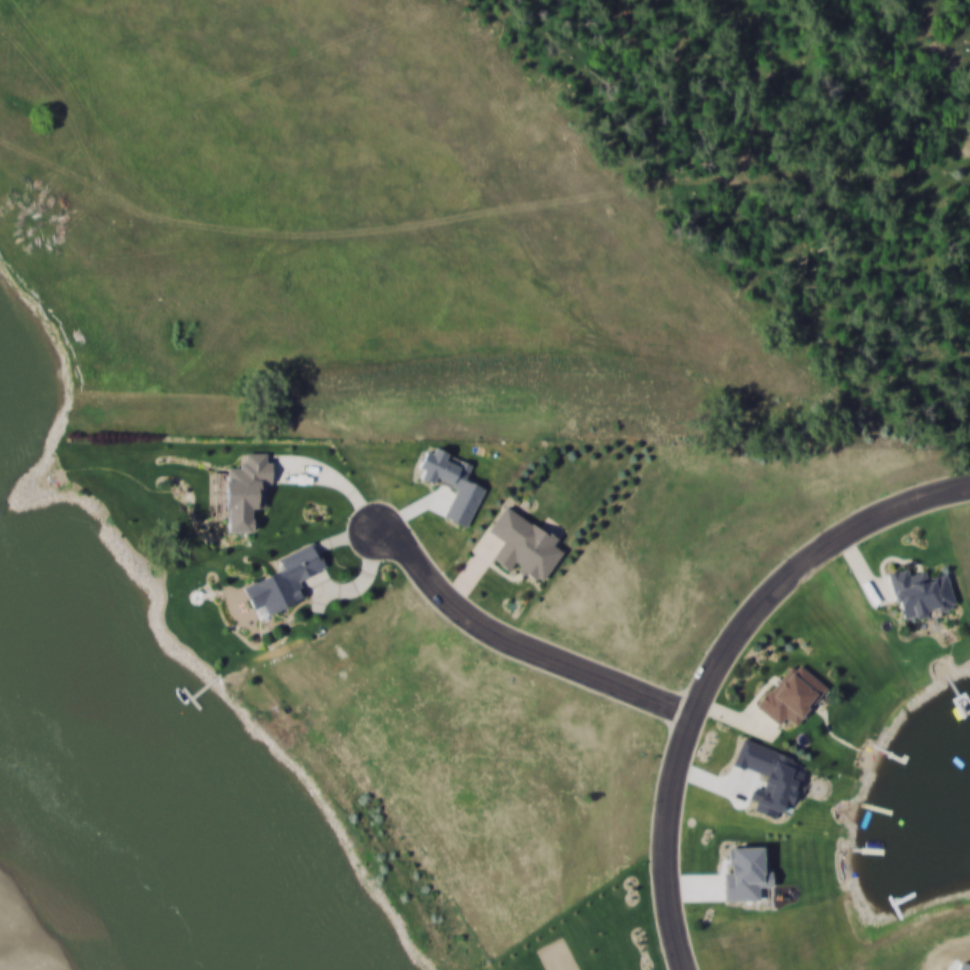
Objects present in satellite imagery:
building: (245, 492)
building: (524, 547)
building: (280, 586)
building: (920, 594)
road: (516, 646)
road: (717, 662)
building: (791, 698)
river: (105, 835)

